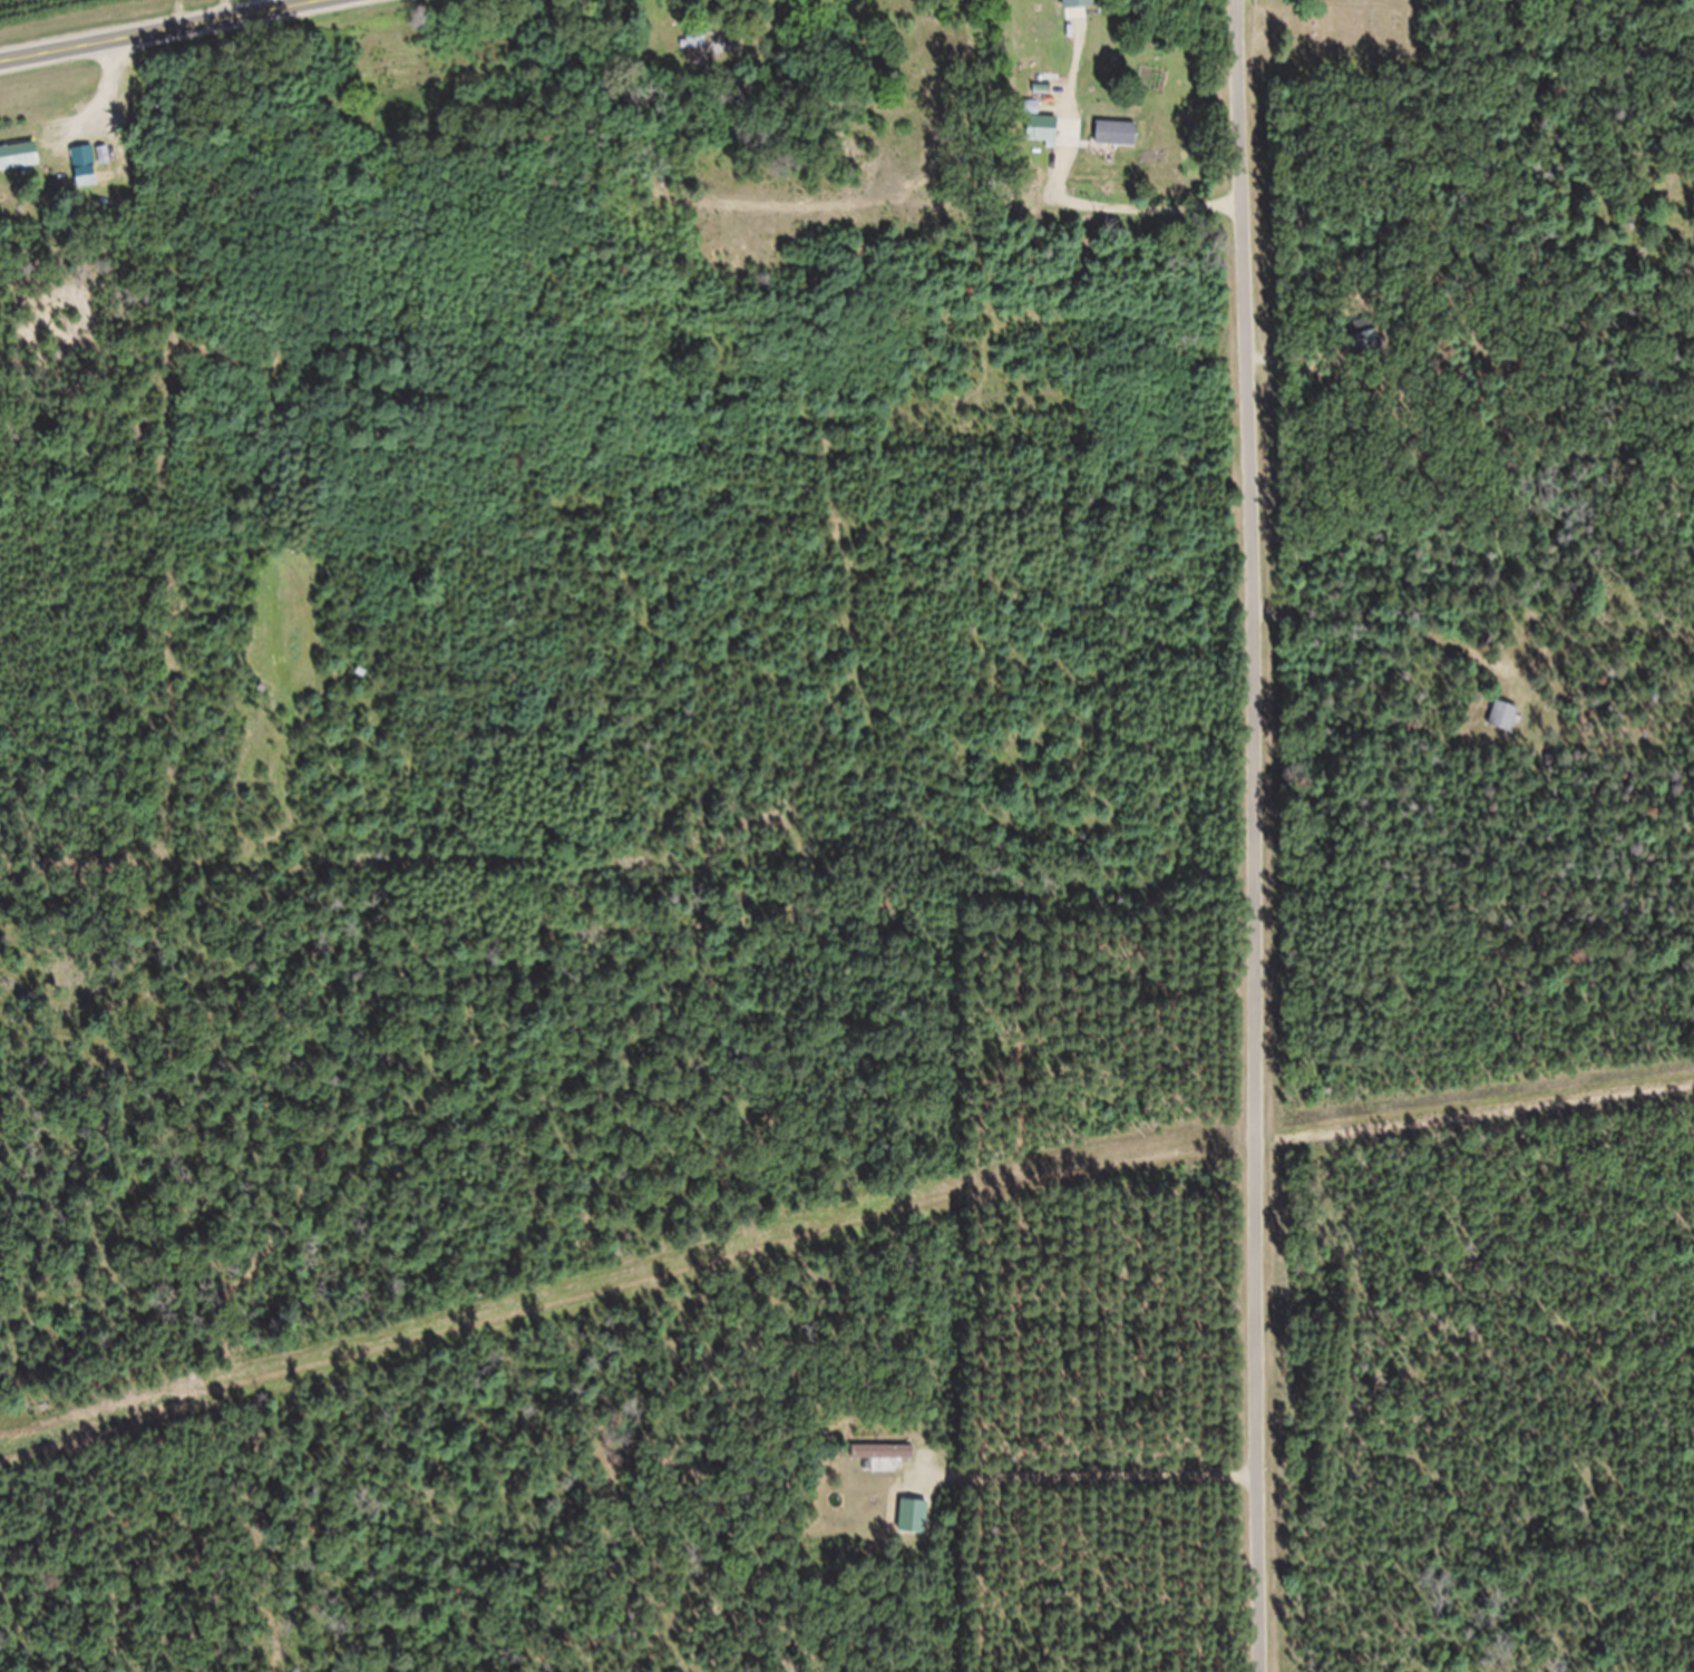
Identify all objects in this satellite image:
road: (158, 32)
building: (699, 59)
building: (1048, 140)
building: (1118, 146)
building: (19, 168)
building: (91, 169)
building: (1367, 350)
building: (1505, 729)
road: (1250, 835)
building: (885, 1468)

